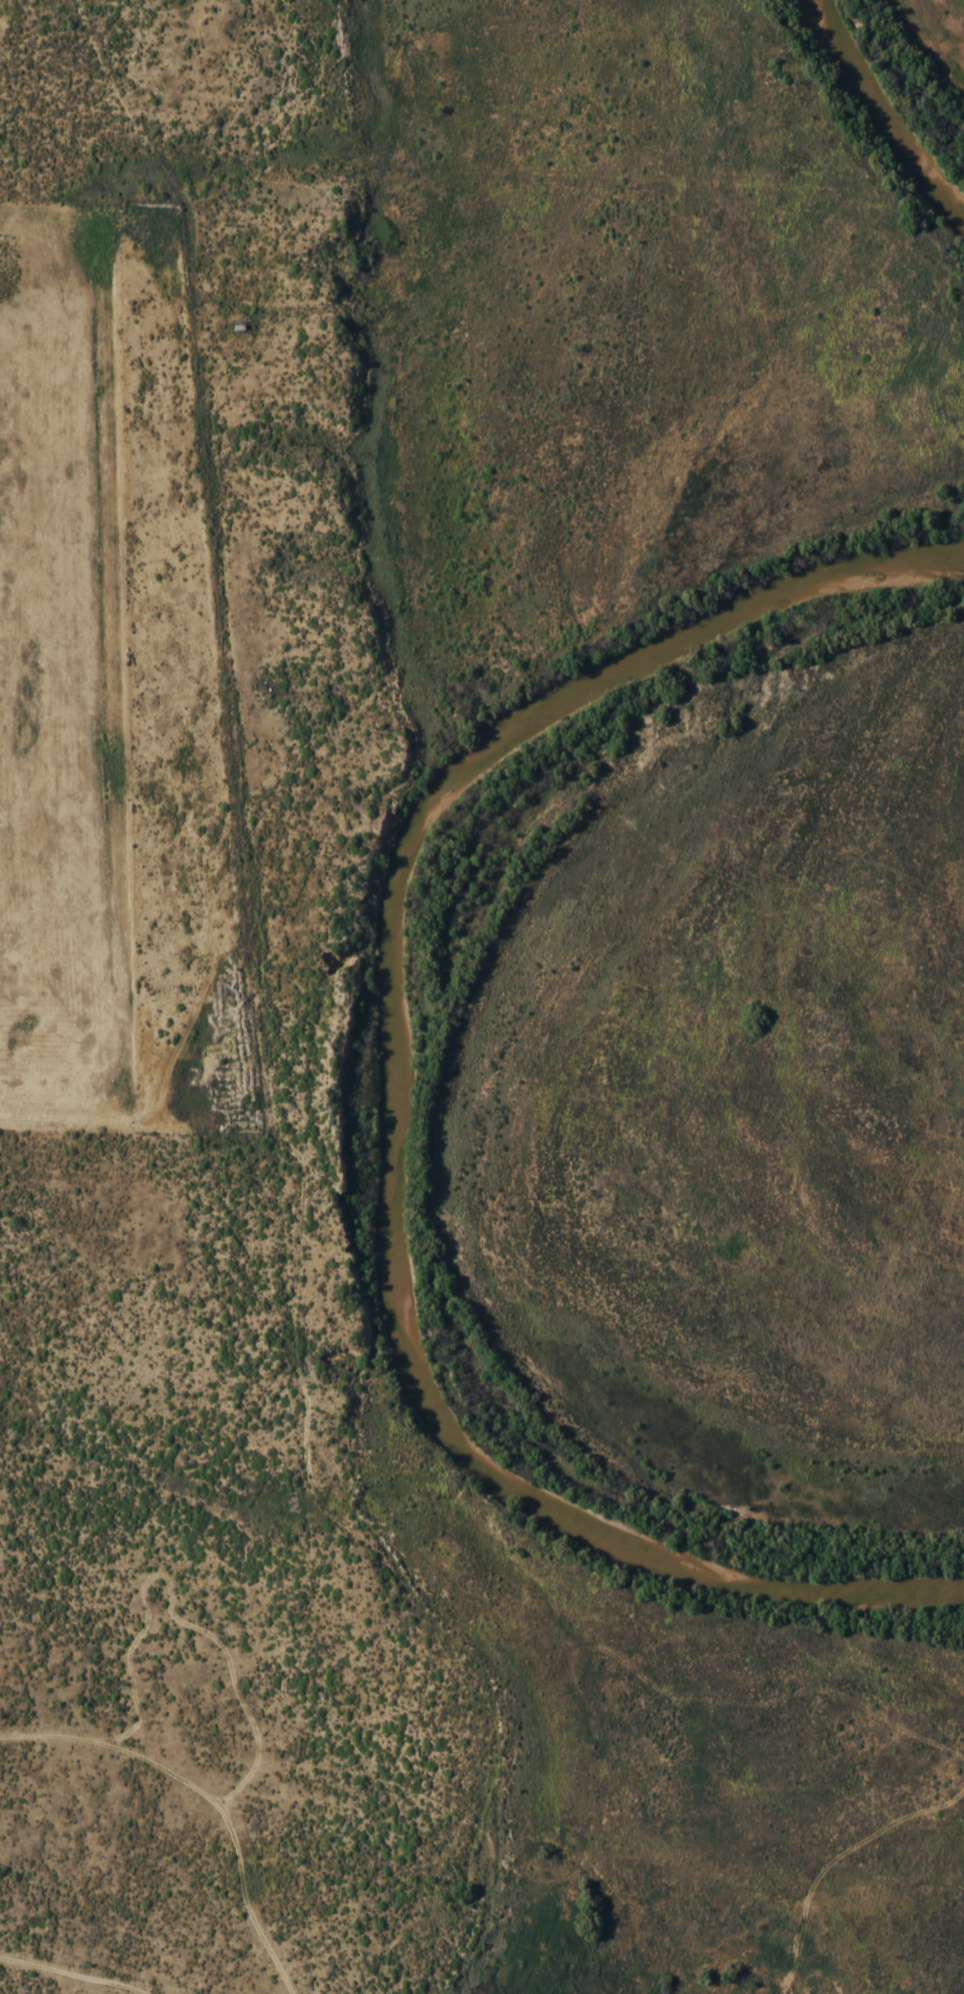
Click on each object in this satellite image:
river: (881, 114)
river: (388, 1094)

